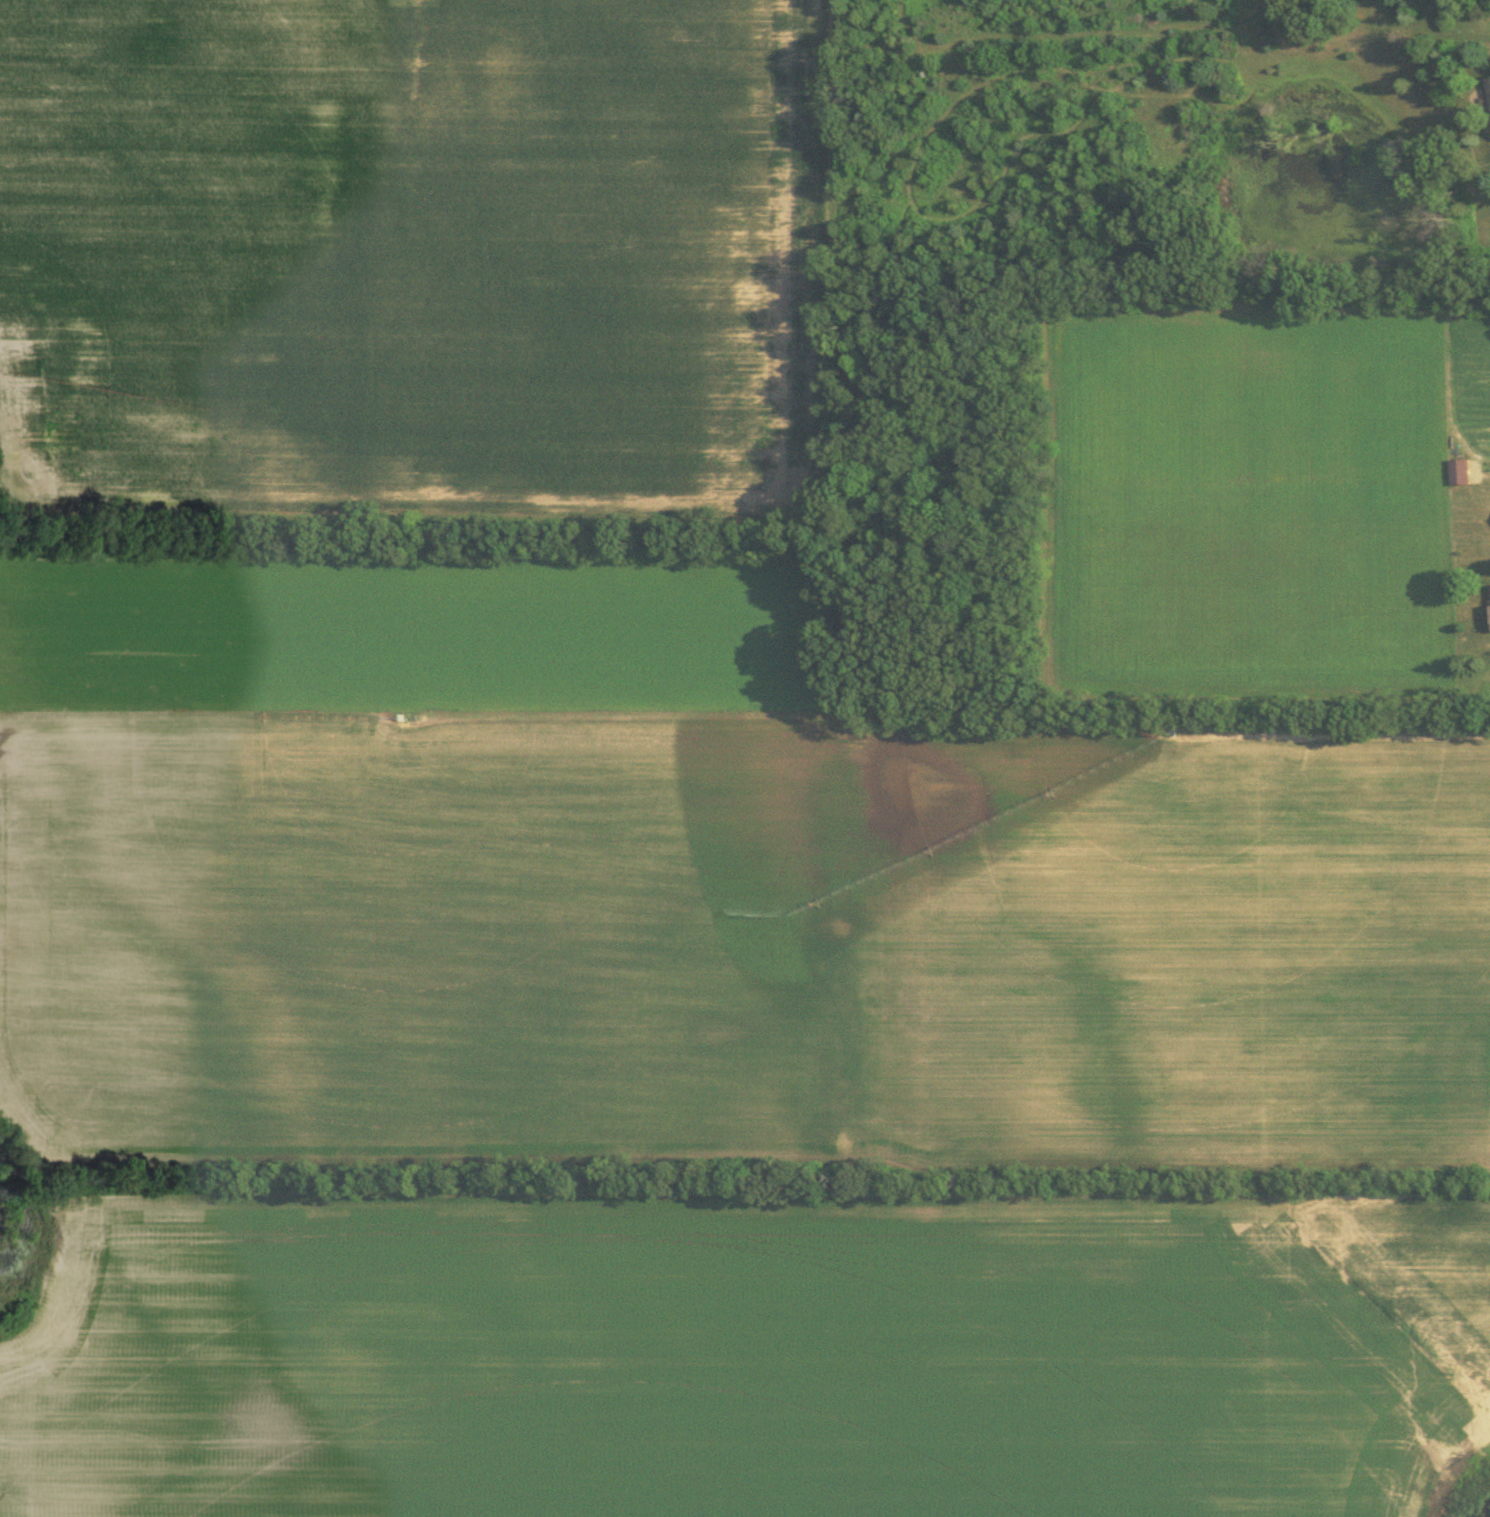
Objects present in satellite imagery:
building: (1488, 82)
crop: (414, 246)
building: (1459, 469)
crop: (1241, 491)
crop: (414, 640)
crop: (747, 947)

